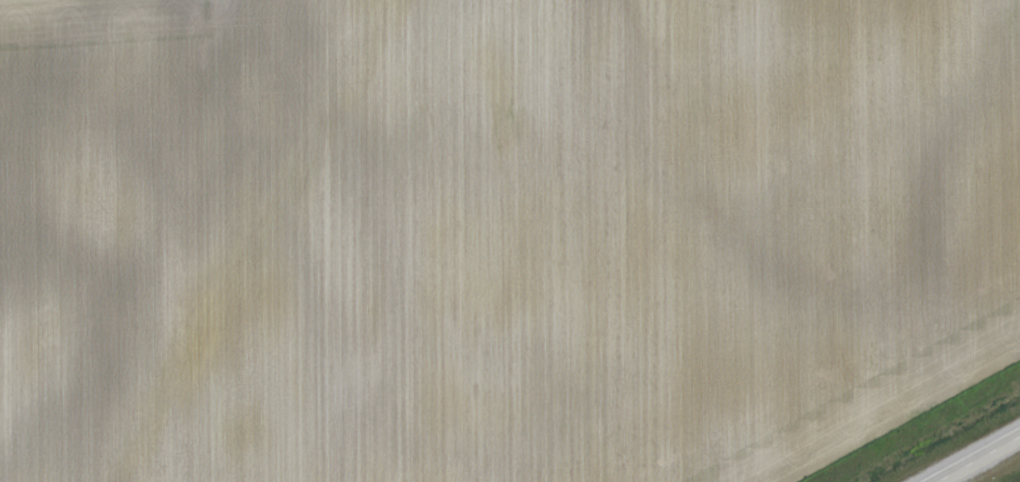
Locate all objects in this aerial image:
road: (979, 459)

